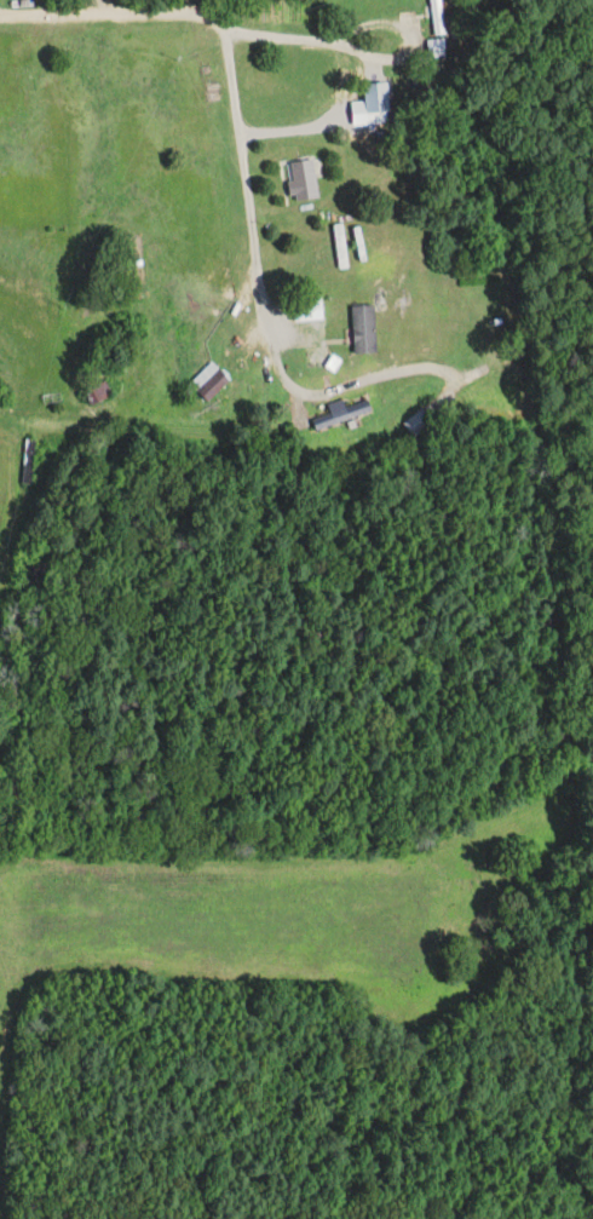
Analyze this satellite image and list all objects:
road: (109, 11)
building: (437, 17)
park: (537, 38)
road: (365, 52)
road: (240, 143)
building: (304, 179)
building: (309, 310)
building: (365, 329)
building: (215, 385)
building: (99, 393)
building: (342, 415)
building: (418, 421)

